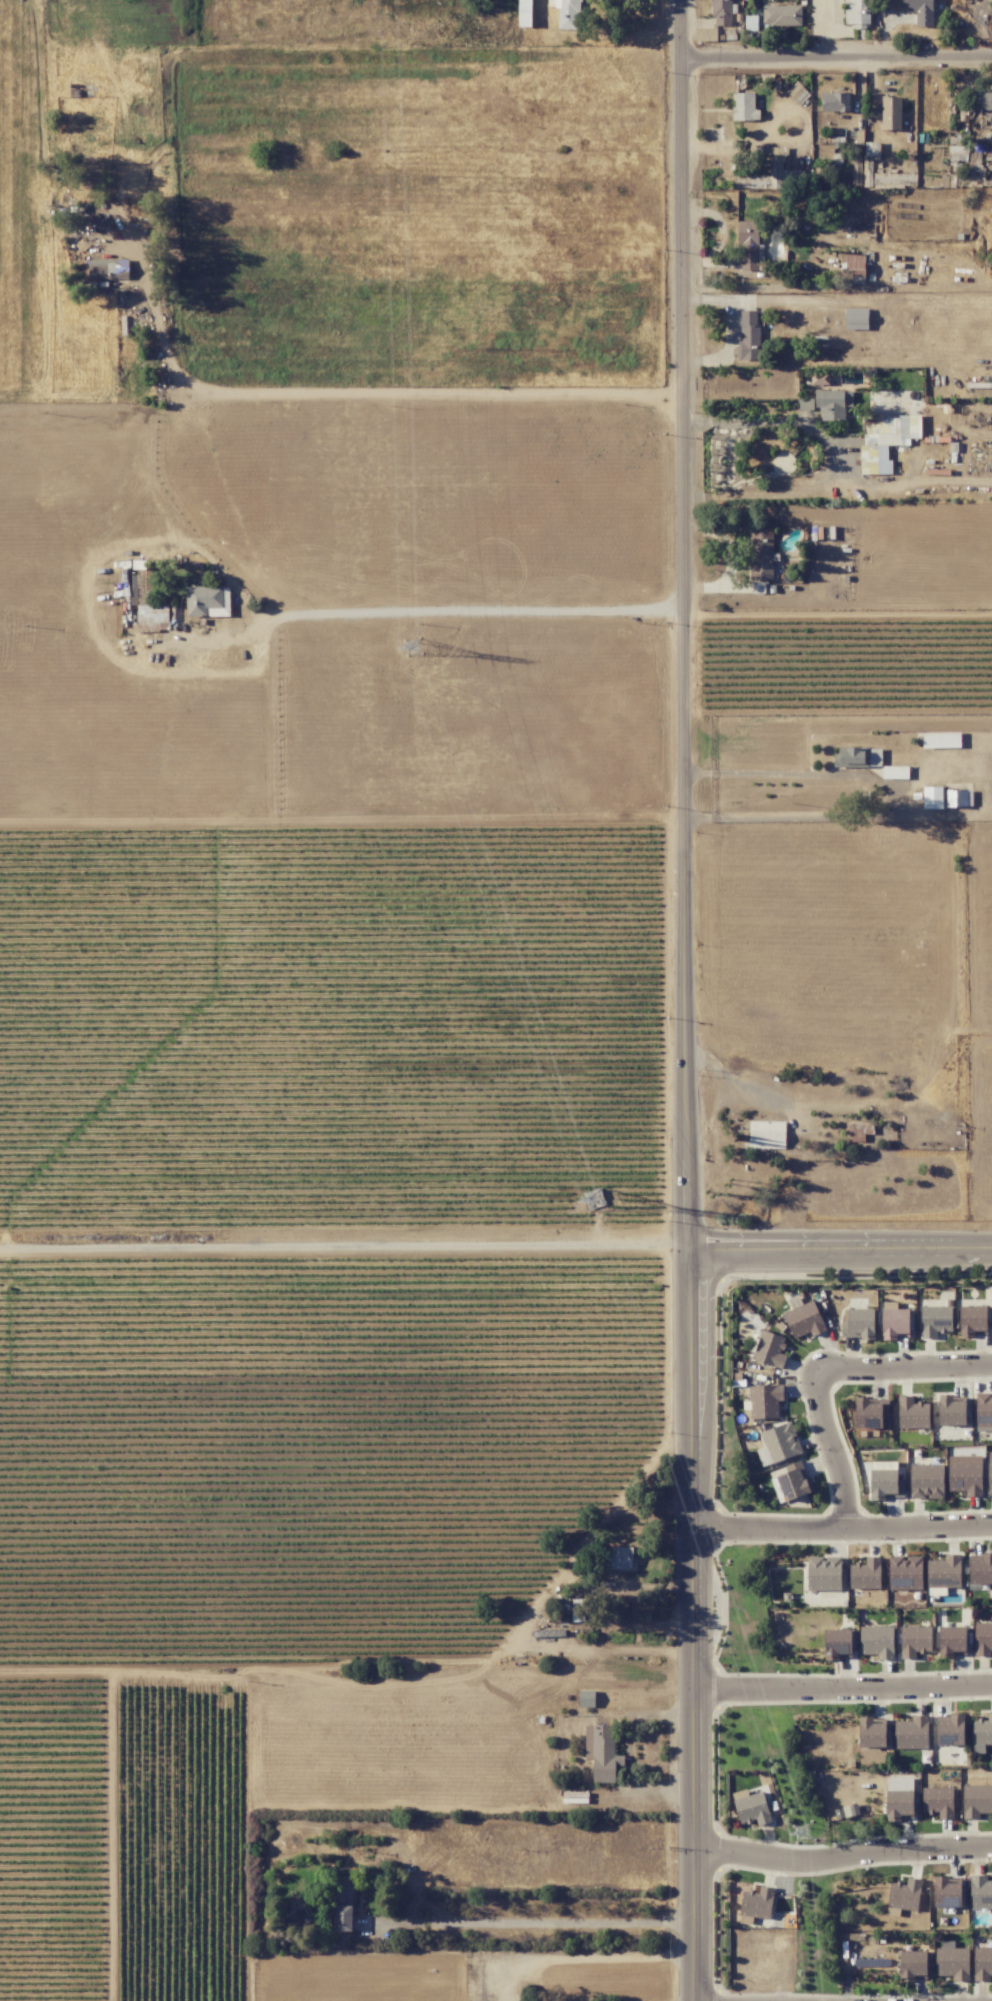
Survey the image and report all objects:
building: (920, 11)
building: (721, 12)
building: (857, 12)
building: (567, 13)
building: (782, 15)
building: (991, 17)
building: (750, 23)
building: (706, 34)
road: (837, 54)
building: (986, 100)
building: (835, 102)
building: (744, 107)
building: (891, 113)
building: (774, 174)
building: (748, 245)
building: (853, 266)
building: (110, 271)
building: (856, 318)
building: (748, 334)
building: (820, 378)
road: (382, 392)
building: (833, 403)
road: (779, 422)
building: (885, 441)
road: (751, 490)
building: (761, 552)
building: (145, 599)
building: (208, 601)
road: (466, 612)
power tower: (412, 647)
building: (941, 739)
building: (858, 757)
building: (895, 772)
building: (947, 798)
road: (684, 1000)
crop: (334, 1036)
road: (753, 1087)
building: (857, 1132)
building: (767, 1134)
power tower: (594, 1199)
road: (839, 1248)
road: (342, 1251)
building: (804, 1320)
building: (935, 1320)
building: (973, 1321)
building: (895, 1322)
building: (858, 1324)
building: (770, 1349)
road: (905, 1368)
building: (765, 1401)
building: (951, 1412)
building: (913, 1413)
building: (869, 1414)
building: (781, 1442)
road: (829, 1446)
building: (990, 1473)
building: (965, 1474)
building: (885, 1481)
building: (926, 1481)
building: (792, 1484)
road: (840, 1523)
building: (619, 1557)
building: (981, 1570)
building: (944, 1572)
building: (824, 1573)
building: (865, 1573)
building: (905, 1573)
building: (577, 1610)
building: (983, 1639)
building: (952, 1640)
building: (877, 1641)
building: (915, 1641)
building: (837, 1643)
road: (617, 1651)
road: (841, 1689)
building: (586, 1698)
building: (951, 1730)
building: (911, 1733)
building: (981, 1733)
building: (872, 1741)
building: (601, 1752)
building: (976, 1800)
building: (938, 1802)
building: (899, 1805)
building: (751, 1807)
power tower: (802, 1833)
road: (841, 1858)
building: (980, 1892)
building: (947, 1893)
building: (904, 1894)
building: (757, 1902)
building: (344, 1903)
road: (531, 1922)
road: (577, 1957)
building: (952, 1961)
building: (982, 1963)
building: (913, 1965)

